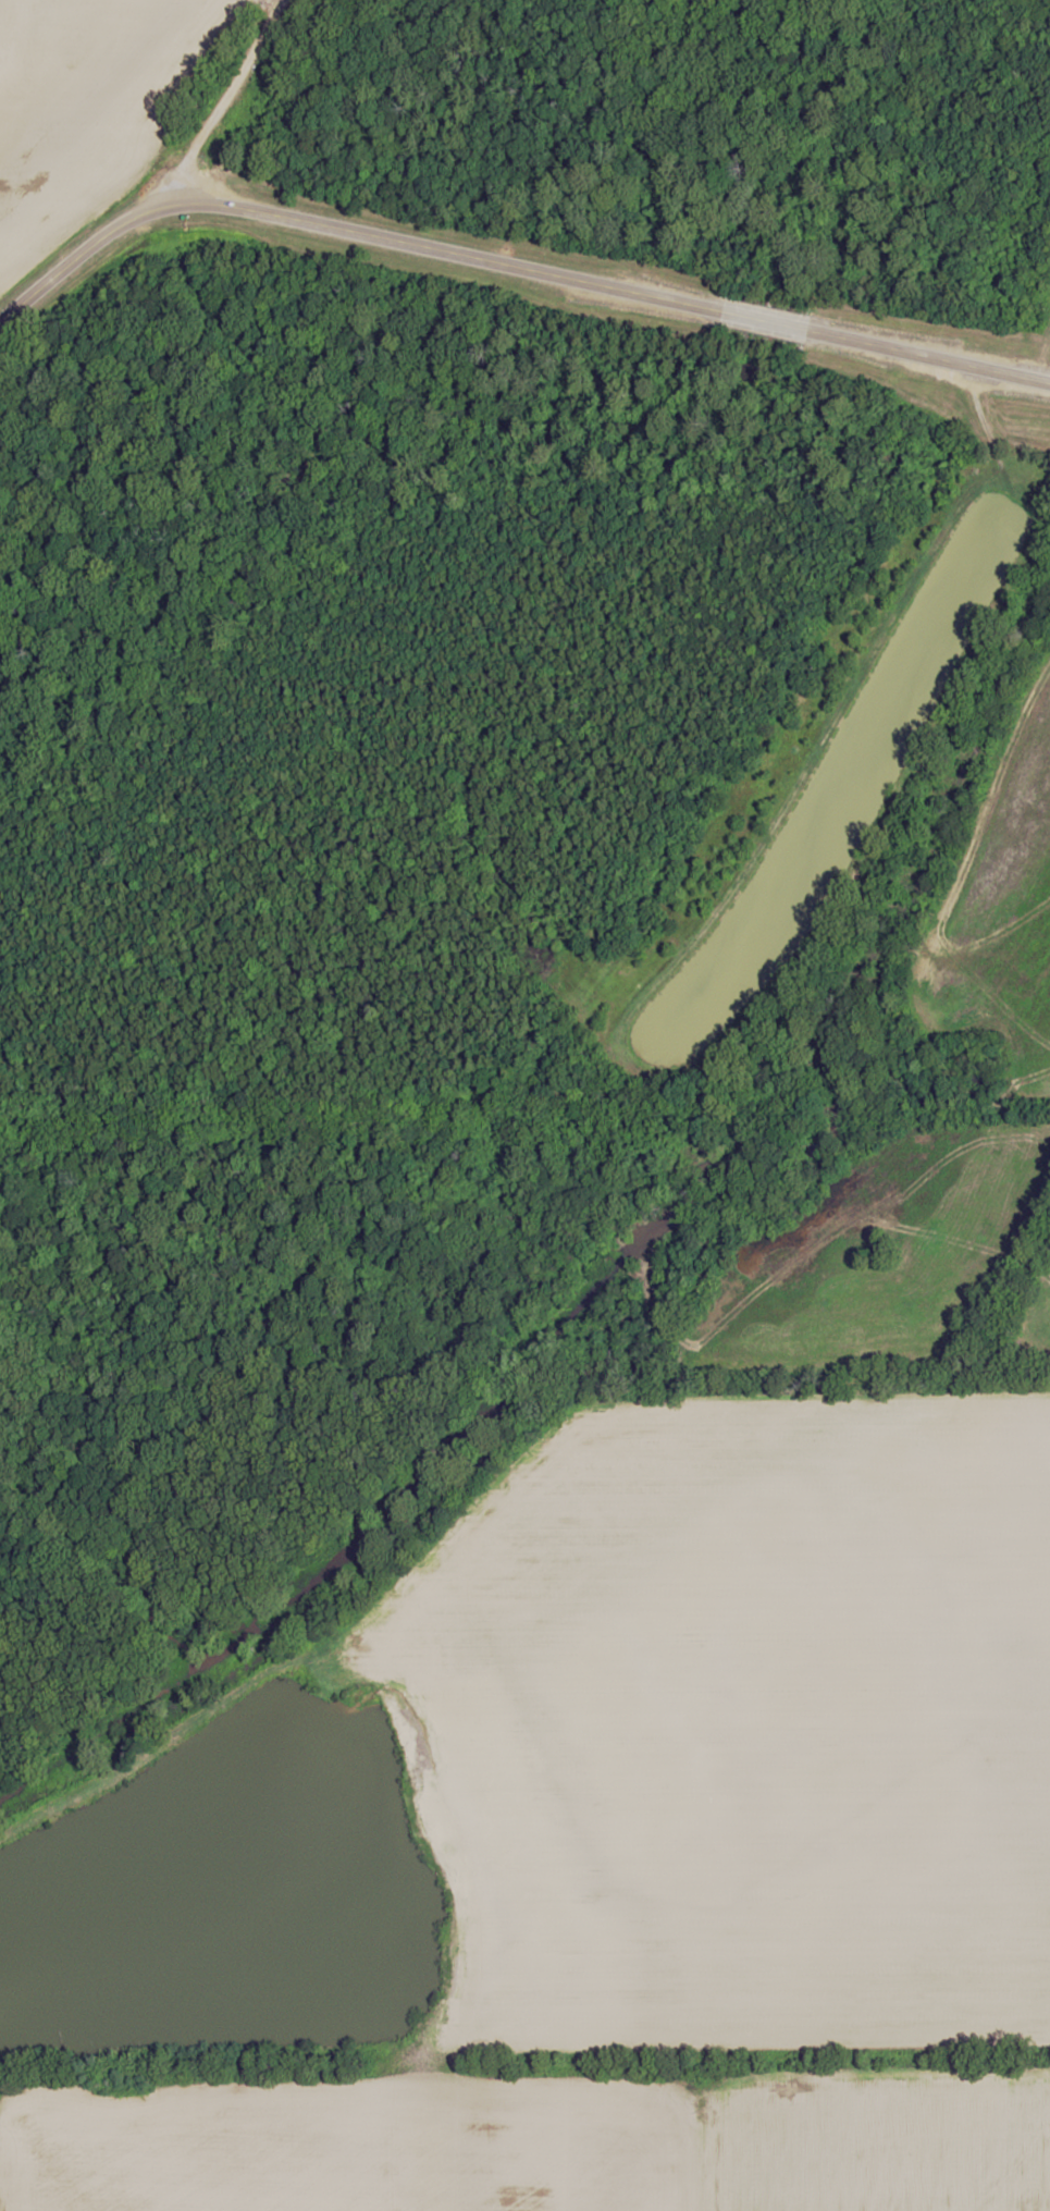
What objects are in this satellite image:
road: (166, 184)
road: (601, 288)
railway: (524, 1121)
crop: (867, 2145)
crop: (344, 2146)

